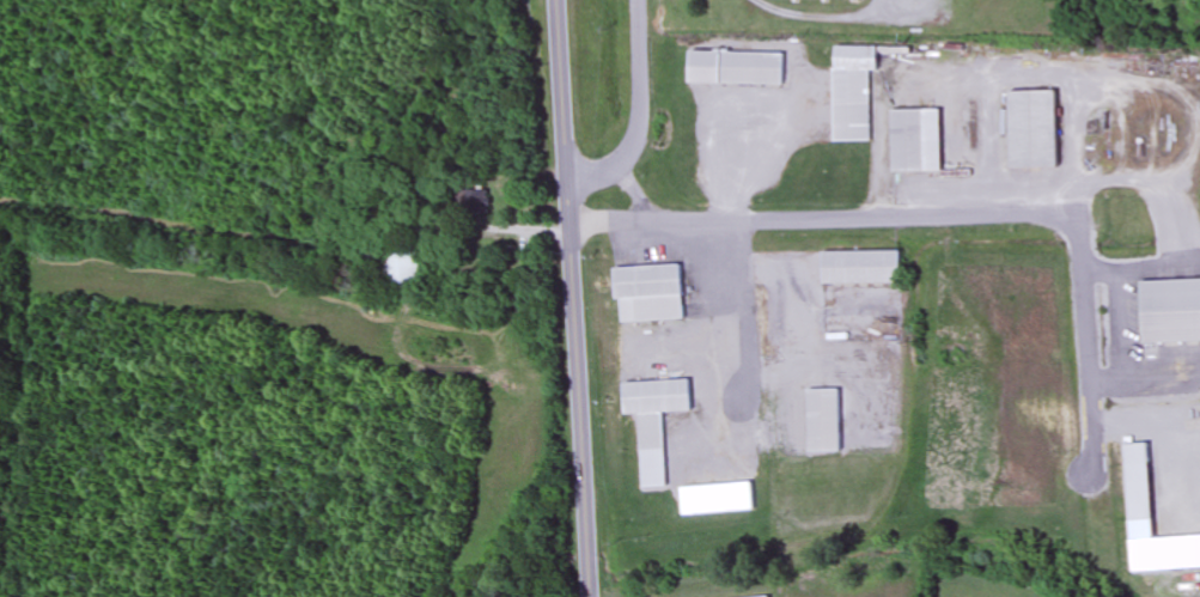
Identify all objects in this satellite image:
building: (741, 72)
building: (853, 108)
road: (641, 114)
building: (1033, 130)
building: (920, 144)
road: (636, 193)
road: (614, 219)
road: (992, 220)
building: (402, 260)
building: (865, 270)
building: (650, 293)
road: (573, 298)
building: (1171, 313)
building: (658, 400)
building: (826, 422)
building: (1138, 482)
building: (719, 500)

